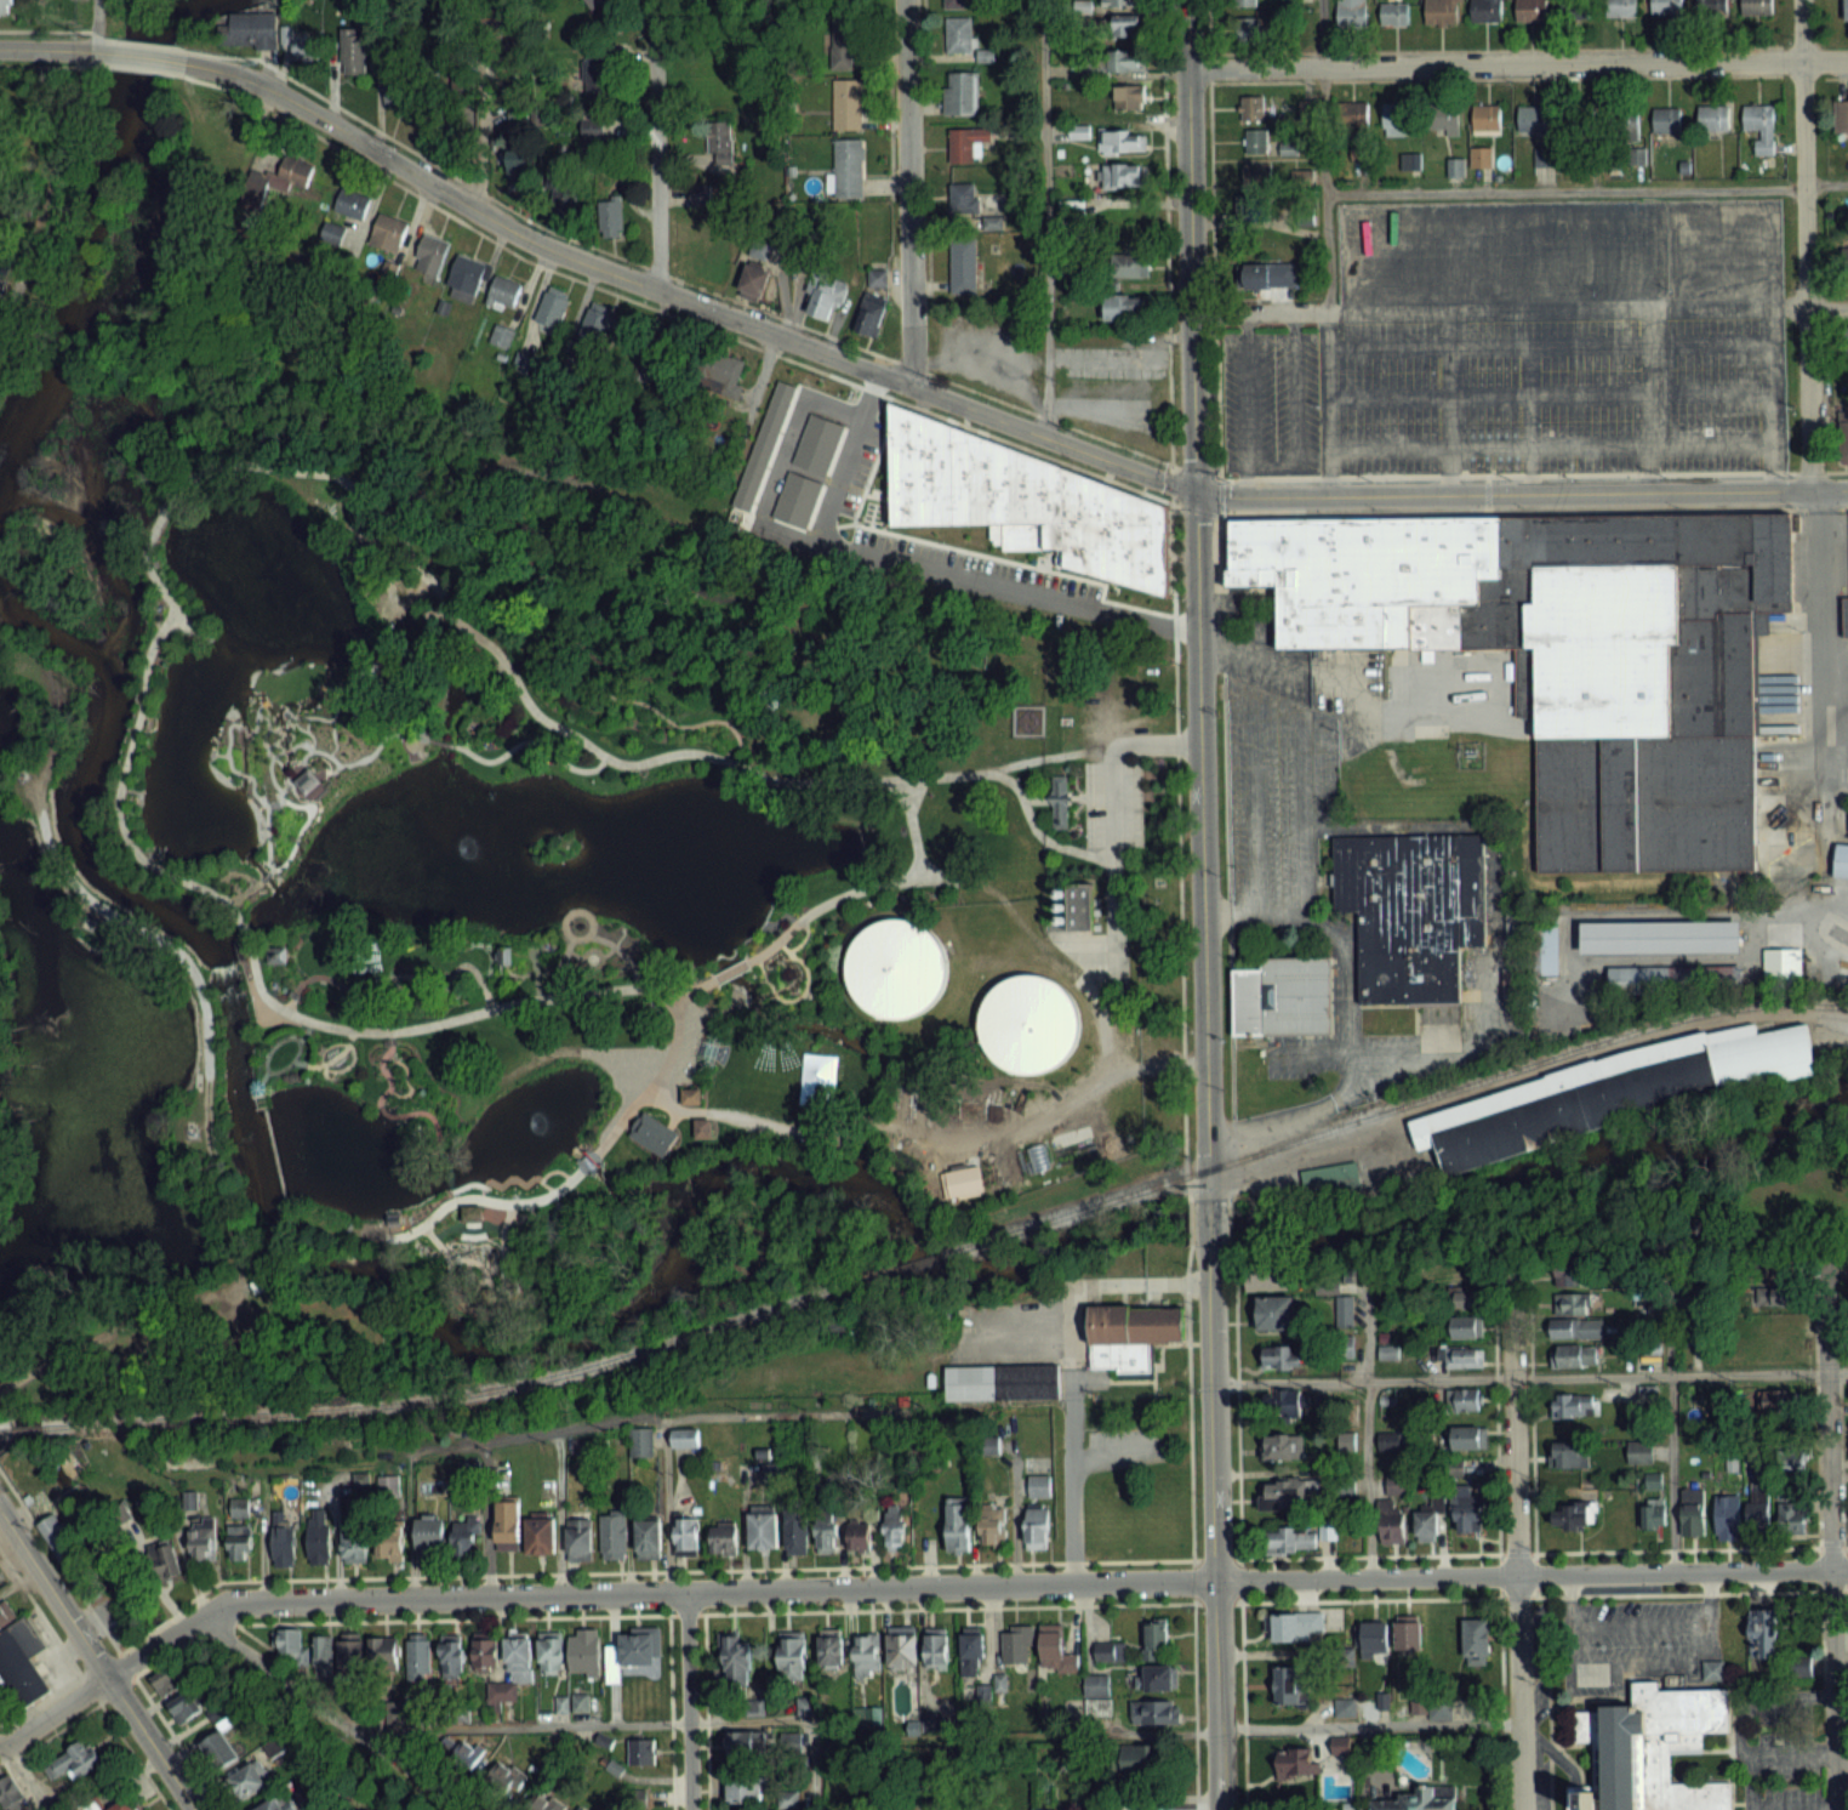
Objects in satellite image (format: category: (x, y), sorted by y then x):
building: (1118, 2)
building: (1244, 2)
building: (594, 4)
building: (963, 4)
building: (7, 6)
building: (1666, 6)
building: (1711, 6)
building: (1621, 7)
building: (1756, 7)
building: (1573, 10)
building: (1844, 10)
building: (1485, 11)
building: (1530, 11)
building: (1443, 12)
building: (1351, 13)
building: (1393, 15)
road: (93, 24)
building: (1120, 25)
building: (1247, 29)
building: (249, 30)
building: (958, 34)
building: (844, 46)
road: (50, 49)
building: (303, 49)
road: (154, 56)
building: (354, 56)
building: (1124, 61)
road: (1516, 63)
building: (594, 74)
building: (399, 92)
building: (490, 93)
building: (960, 93)
building: (1129, 97)
building: (846, 104)
building: (1253, 109)
building: (1356, 116)
building: (1841, 116)
building: (1579, 118)
building: (1396, 119)
building: (1442, 119)
building: (1485, 119)
building: (1533, 119)
building: (1712, 119)
building: (1666, 120)
building: (1624, 124)
building: (595, 126)
building: (1761, 126)
building: (1122, 141)
building: (1255, 141)
building: (719, 142)
building: (965, 143)
road: (655, 144)
road: (1322, 155)
building: (1479, 156)
building: (849, 167)
building: (278, 172)
building: (1256, 173)
building: (1120, 175)
road: (1586, 187)
building: (563, 190)
road: (909, 192)
building: (964, 198)
building: (350, 204)
building: (1250, 209)
road: (1044, 216)
building: (610, 218)
building: (1123, 226)
building: (332, 232)
building: (388, 233)
road: (1804, 243)
building: (430, 256)
building: (1844, 261)
building: (708, 262)
building: (1130, 266)
building: (963, 268)
building: (1268, 275)
building: (466, 278)
building: (754, 281)
building: (0, 283)
building: (503, 292)
building: (823, 297)
road: (689, 301)
road: (1827, 304)
building: (552, 307)
building: (1123, 307)
road: (1498, 308)
building: (869, 314)
building: (598, 326)
building: (501, 336)
road: (1719, 340)
building: (1846, 341)
road: (1487, 342)
building: (725, 376)
road: (1721, 389)
road: (1488, 394)
parking lot: (1493, 395)
road: (1448, 400)
road: (1327, 402)
building: (1136, 410)
road: (1769, 414)
road: (1649, 415)
road: (1528, 417)
building: (1843, 436)
building: (817, 442)
building: (763, 443)
road: (1547, 444)
road: (1271, 463)
traffic signals: (1194, 489)
road: (1521, 493)
building: (797, 497)
building: (1021, 497)
road: (1217, 558)
road: (646, 560)
road: (928, 564)
road: (1171, 598)
road: (1196, 598)
building: (1844, 614)
road: (411, 616)
road: (1824, 627)
road: (383, 649)
road: (583, 650)
building: (1568, 650)
road: (1250, 653)
road: (512, 679)
road: (417, 689)
road: (594, 689)
road: (729, 694)
road: (1277, 704)
road: (530, 739)
road: (439, 741)
road: (274, 765)
building: (304, 779)
road: (1066, 797)
building: (1056, 798)
parking lot: (1112, 802)
road: (1253, 803)
road: (1302, 812)
road: (1111, 829)
road: (125, 837)
building: (1840, 858)
building: (1077, 904)
building: (1408, 909)
road: (1279, 911)
road: (1228, 912)
road: (239, 927)
building: (1656, 934)
building: (1540, 943)
building: (274, 952)
building: (501, 952)
building: (1780, 966)
building: (896, 968)
road: (393, 973)
building: (1671, 977)
road: (1346, 984)
road: (615, 987)
building: (1282, 994)
road: (1100, 1024)
building: (1034, 1025)
road: (671, 1038)
building: (1610, 1089)
building: (688, 1093)
road: (1321, 1106)
railway: (1391, 1108)
road: (1045, 1115)
road: (869, 1120)
building: (700, 1126)
road: (769, 1126)
building: (651, 1132)
building: (959, 1179)
building: (1329, 1182)
building: (468, 1211)
road: (1188, 1219)
road: (1209, 1219)
road: (1227, 1220)
railway: (913, 1262)
building: (1568, 1274)
building: (1266, 1277)
building: (1775, 1294)
building: (1462, 1297)
building: (1572, 1302)
building: (1345, 1309)
building: (1276, 1310)
building: (1466, 1326)
building: (1578, 1327)
building: (1128, 1333)
building: (1278, 1355)
building: (1574, 1355)
building: (1462, 1357)
road: (1071, 1368)
road: (1529, 1376)
building: (999, 1381)
railway: (468, 1394)
building: (1464, 1399)
building: (1772, 1400)
building: (1288, 1401)
building: (1575, 1404)
road: (1494, 1412)
road: (1529, 1412)
road: (1671, 1423)
road: (1364, 1425)
railway: (22, 1428)
railway: (4, 1429)
building: (685, 1436)
building: (1466, 1438)
road: (491, 1439)
building: (641, 1441)
road: (665, 1442)
building: (1283, 1445)
building: (1641, 1450)
building: (1568, 1453)
building: (389, 1485)
building: (1039, 1485)
building: (1284, 1492)
building: (239, 1506)
building: (1579, 1509)
building: (1758, 1510)
building: (1467, 1514)
building: (1654, 1514)
road: (485, 1518)
building: (1792, 1519)
road: (1013, 1520)
building: (508, 1521)
road: (1237, 1525)
building: (1426, 1525)
building: (764, 1526)
building: (993, 1526)
building: (1037, 1526)
road: (1190, 1526)
road: (1213, 1526)
building: (959, 1527)
building: (1392, 1527)
building: (895, 1530)
building: (390, 1532)
building: (540, 1532)
road: (1818, 1533)
road: (1829, 1533)
building: (432, 1535)
building: (466, 1535)
building: (614, 1535)
building: (797, 1535)
building: (827, 1535)
building: (319, 1536)
building: (685, 1536)
road: (743, 1536)
building: (859, 1536)
building: (283, 1537)
building: (724, 1537)
building: (203, 1538)
building: (580, 1538)
building: (649, 1539)
building: (1291, 1539)
building: (239, 1541)
road: (1515, 1542)
building: (354, 1544)
road: (336, 1546)
road: (1689, 1547)
road: (264, 1550)
road: (842, 1552)
road: (1515, 1552)
building: (68, 1555)
building: (164, 1558)
road: (57, 1563)
road: (794, 1566)
road: (189, 1571)
road: (1533, 1572)
road: (1498, 1573)
road: (1532, 1573)
road: (159, 1588)
road: (1842, 1589)
road: (1690, 1592)
road: (587, 1593)
road: (1515, 1595)
road: (806, 1610)
building: (1295, 1627)
building: (1730, 1630)
building: (1408, 1632)
building: (1156, 1634)
building: (1763, 1634)
building: (1375, 1637)
building: (1476, 1639)
building: (290, 1641)
building: (971, 1644)
building: (640, 1645)
building: (1017, 1645)
building: (831, 1647)
building: (918, 1649)
building: (323, 1650)
building: (551, 1650)
building: (584, 1650)
building: (1055, 1650)
building: (384, 1651)
building: (519, 1651)
building: (1110, 1651)
building: (350, 1652)
building: (485, 1654)
building: (792, 1654)
building: (452, 1655)
building: (418, 1656)
building: (865, 1656)
building: (19, 1658)
building: (1345, 1658)
road: (98, 1660)
building: (736, 1661)
road: (124, 1664)
road: (1633, 1668)
building: (1160, 1677)
road: (82, 1681)
building: (1287, 1685)
building: (1, 1698)
road: (686, 1700)
road: (1500, 1702)
road: (1546, 1702)
building: (806, 1704)
building: (187, 1707)
road: (703, 1711)
building: (1156, 1711)
road: (668, 1712)
road: (333, 1713)
road: (1738, 1713)
road: (366, 1717)
road: (68, 1721)
road: (624, 1721)
road: (1278, 1728)
building: (745, 1742)
road: (177, 1743)
building: (1649, 1747)
building: (219, 1749)
building: (641, 1752)
road: (1787, 1752)
building: (1137, 1757)
building: (75, 1761)
building: (1296, 1761)
building: (247, 1781)
building: (506, 1781)
building: (743, 1789)
building: (10, 1794)
building: (1414, 1802)
building: (126, 1805)
building: (270, 1805)
road: (1791, 1806)
building: (584, 1808)

